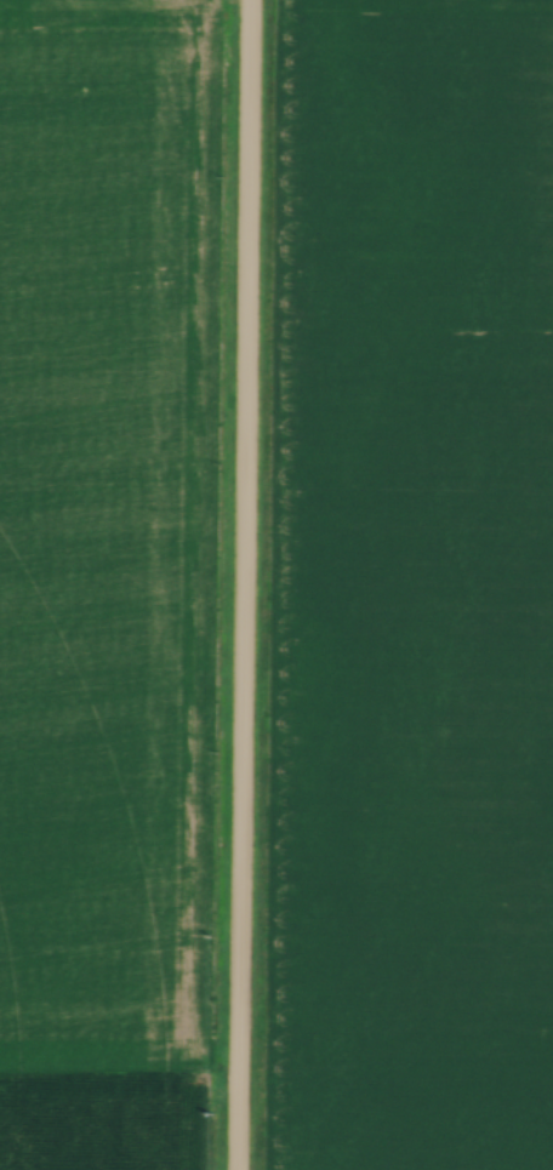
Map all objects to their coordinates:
road: (239, 584)

